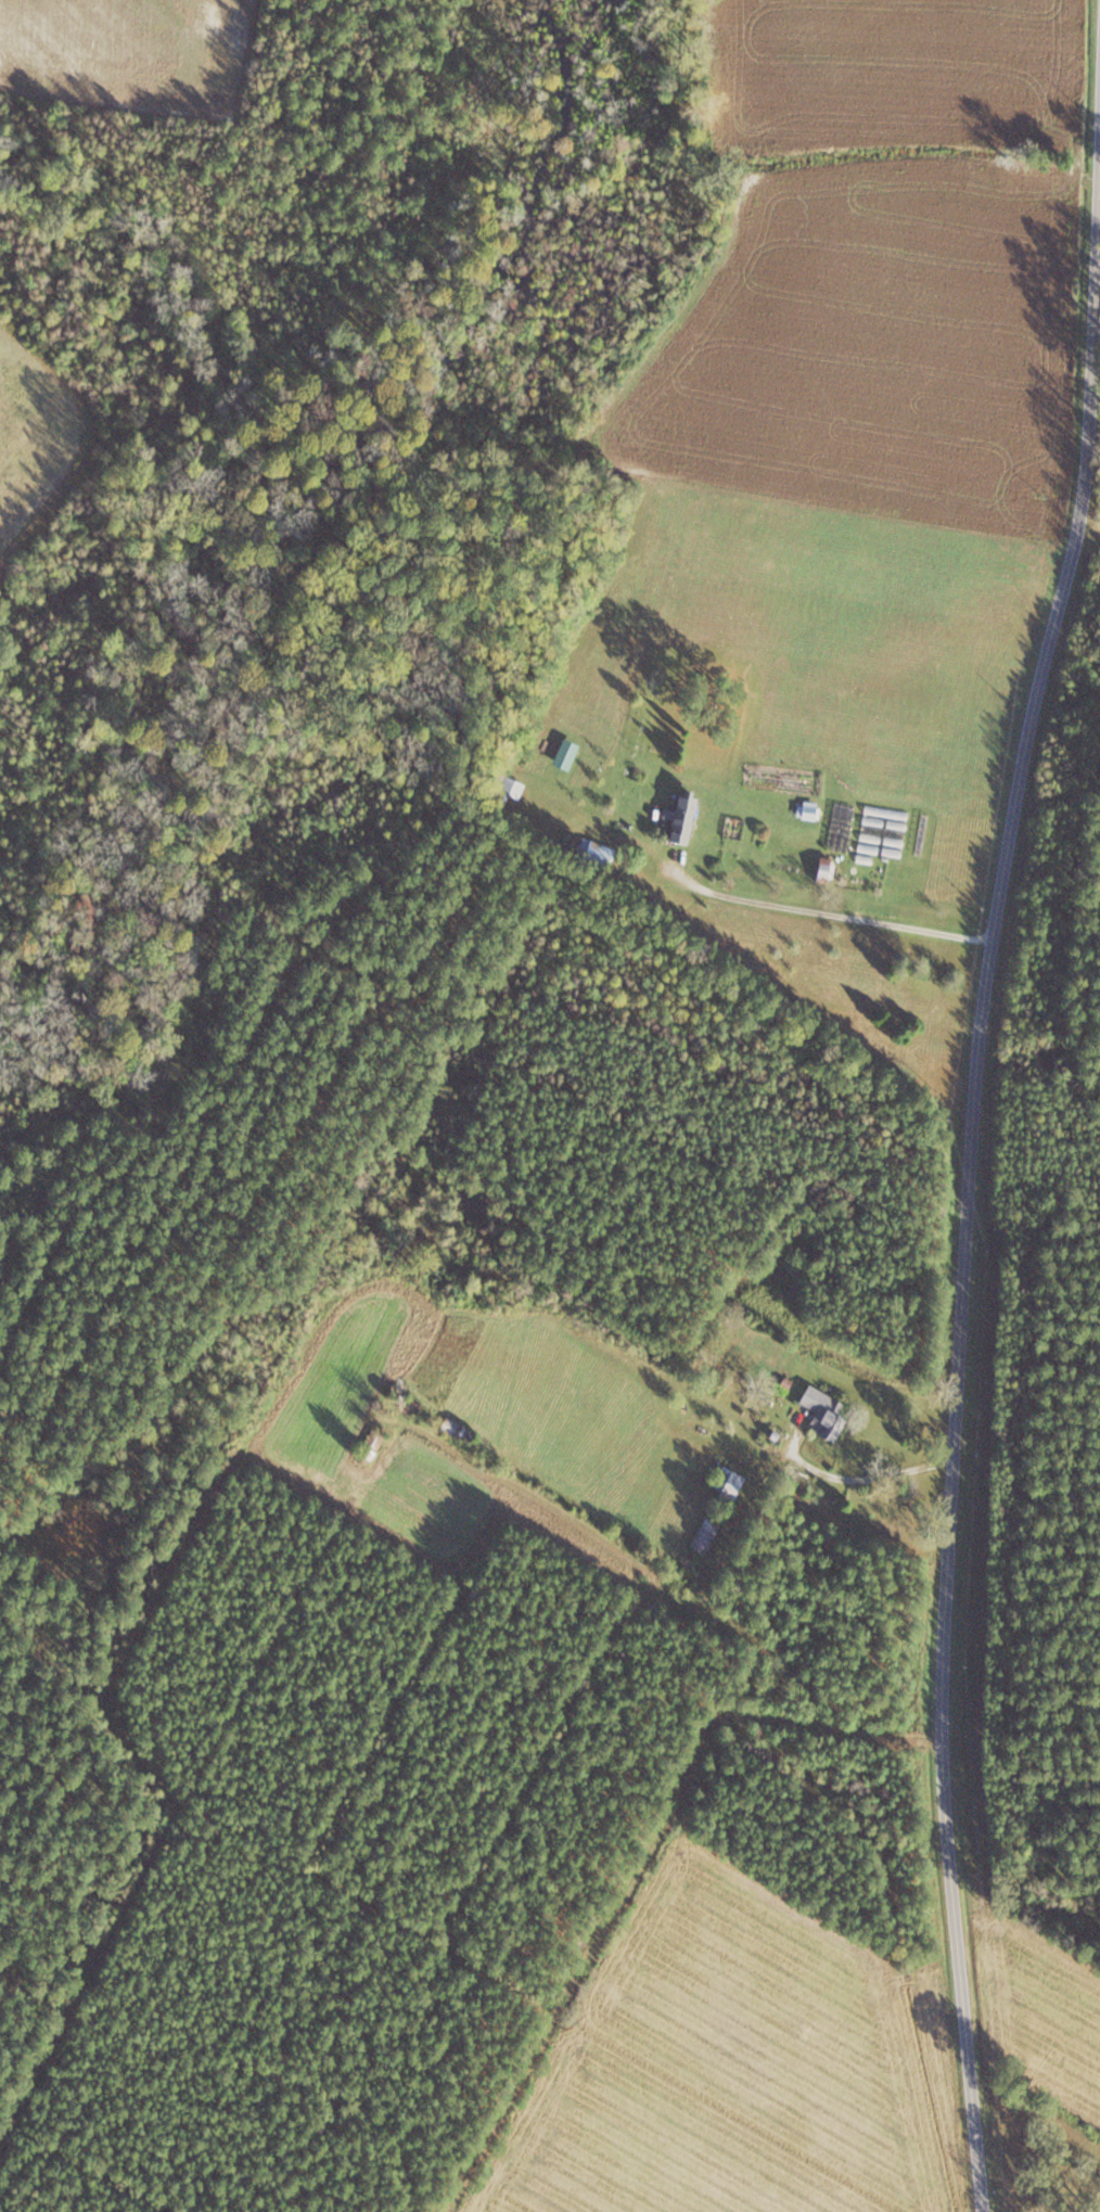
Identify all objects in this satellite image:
building: (1047, 120)
building: (986, 174)
building: (809, 814)
building: (682, 818)
building: (826, 869)
road: (826, 912)
road: (969, 1187)
building: (826, 1411)
building: (458, 1429)
building: (374, 1442)
road: (867, 1479)
building: (730, 1484)
building: (706, 1534)

